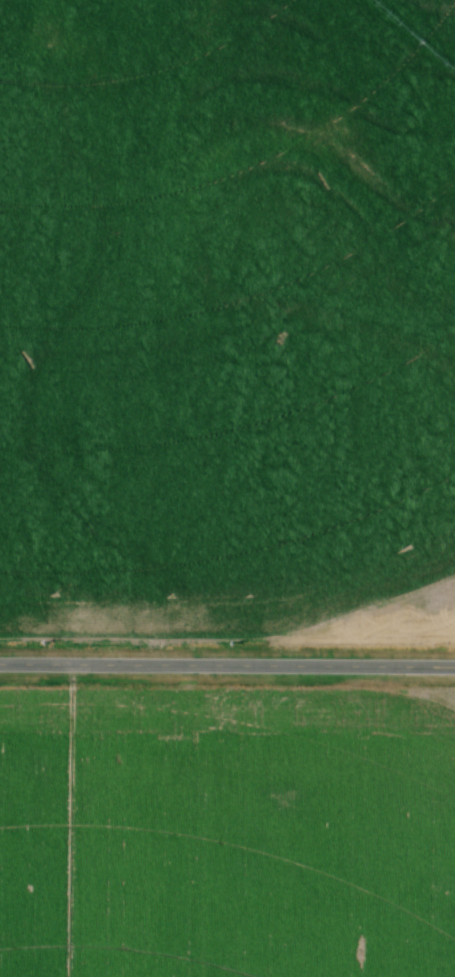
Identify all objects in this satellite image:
road: (227, 667)

